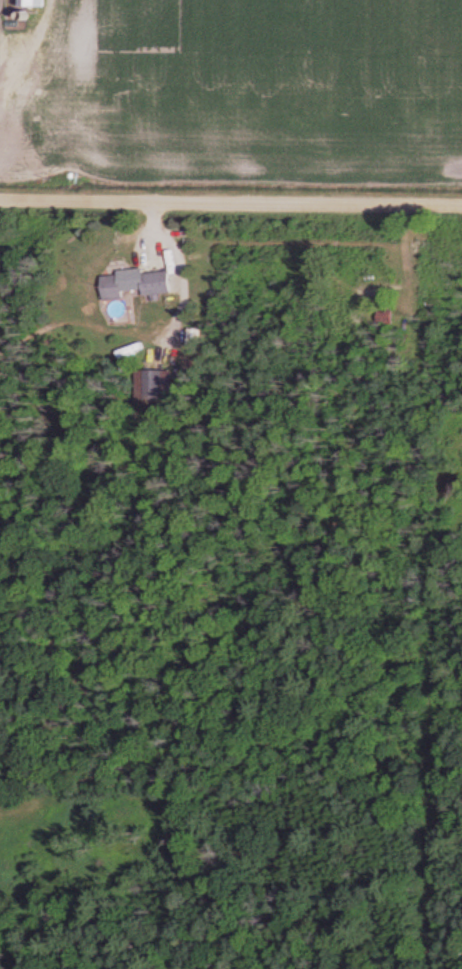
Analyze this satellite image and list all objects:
building: (32, 3)
road: (231, 205)
building: (384, 279)
building: (141, 285)

